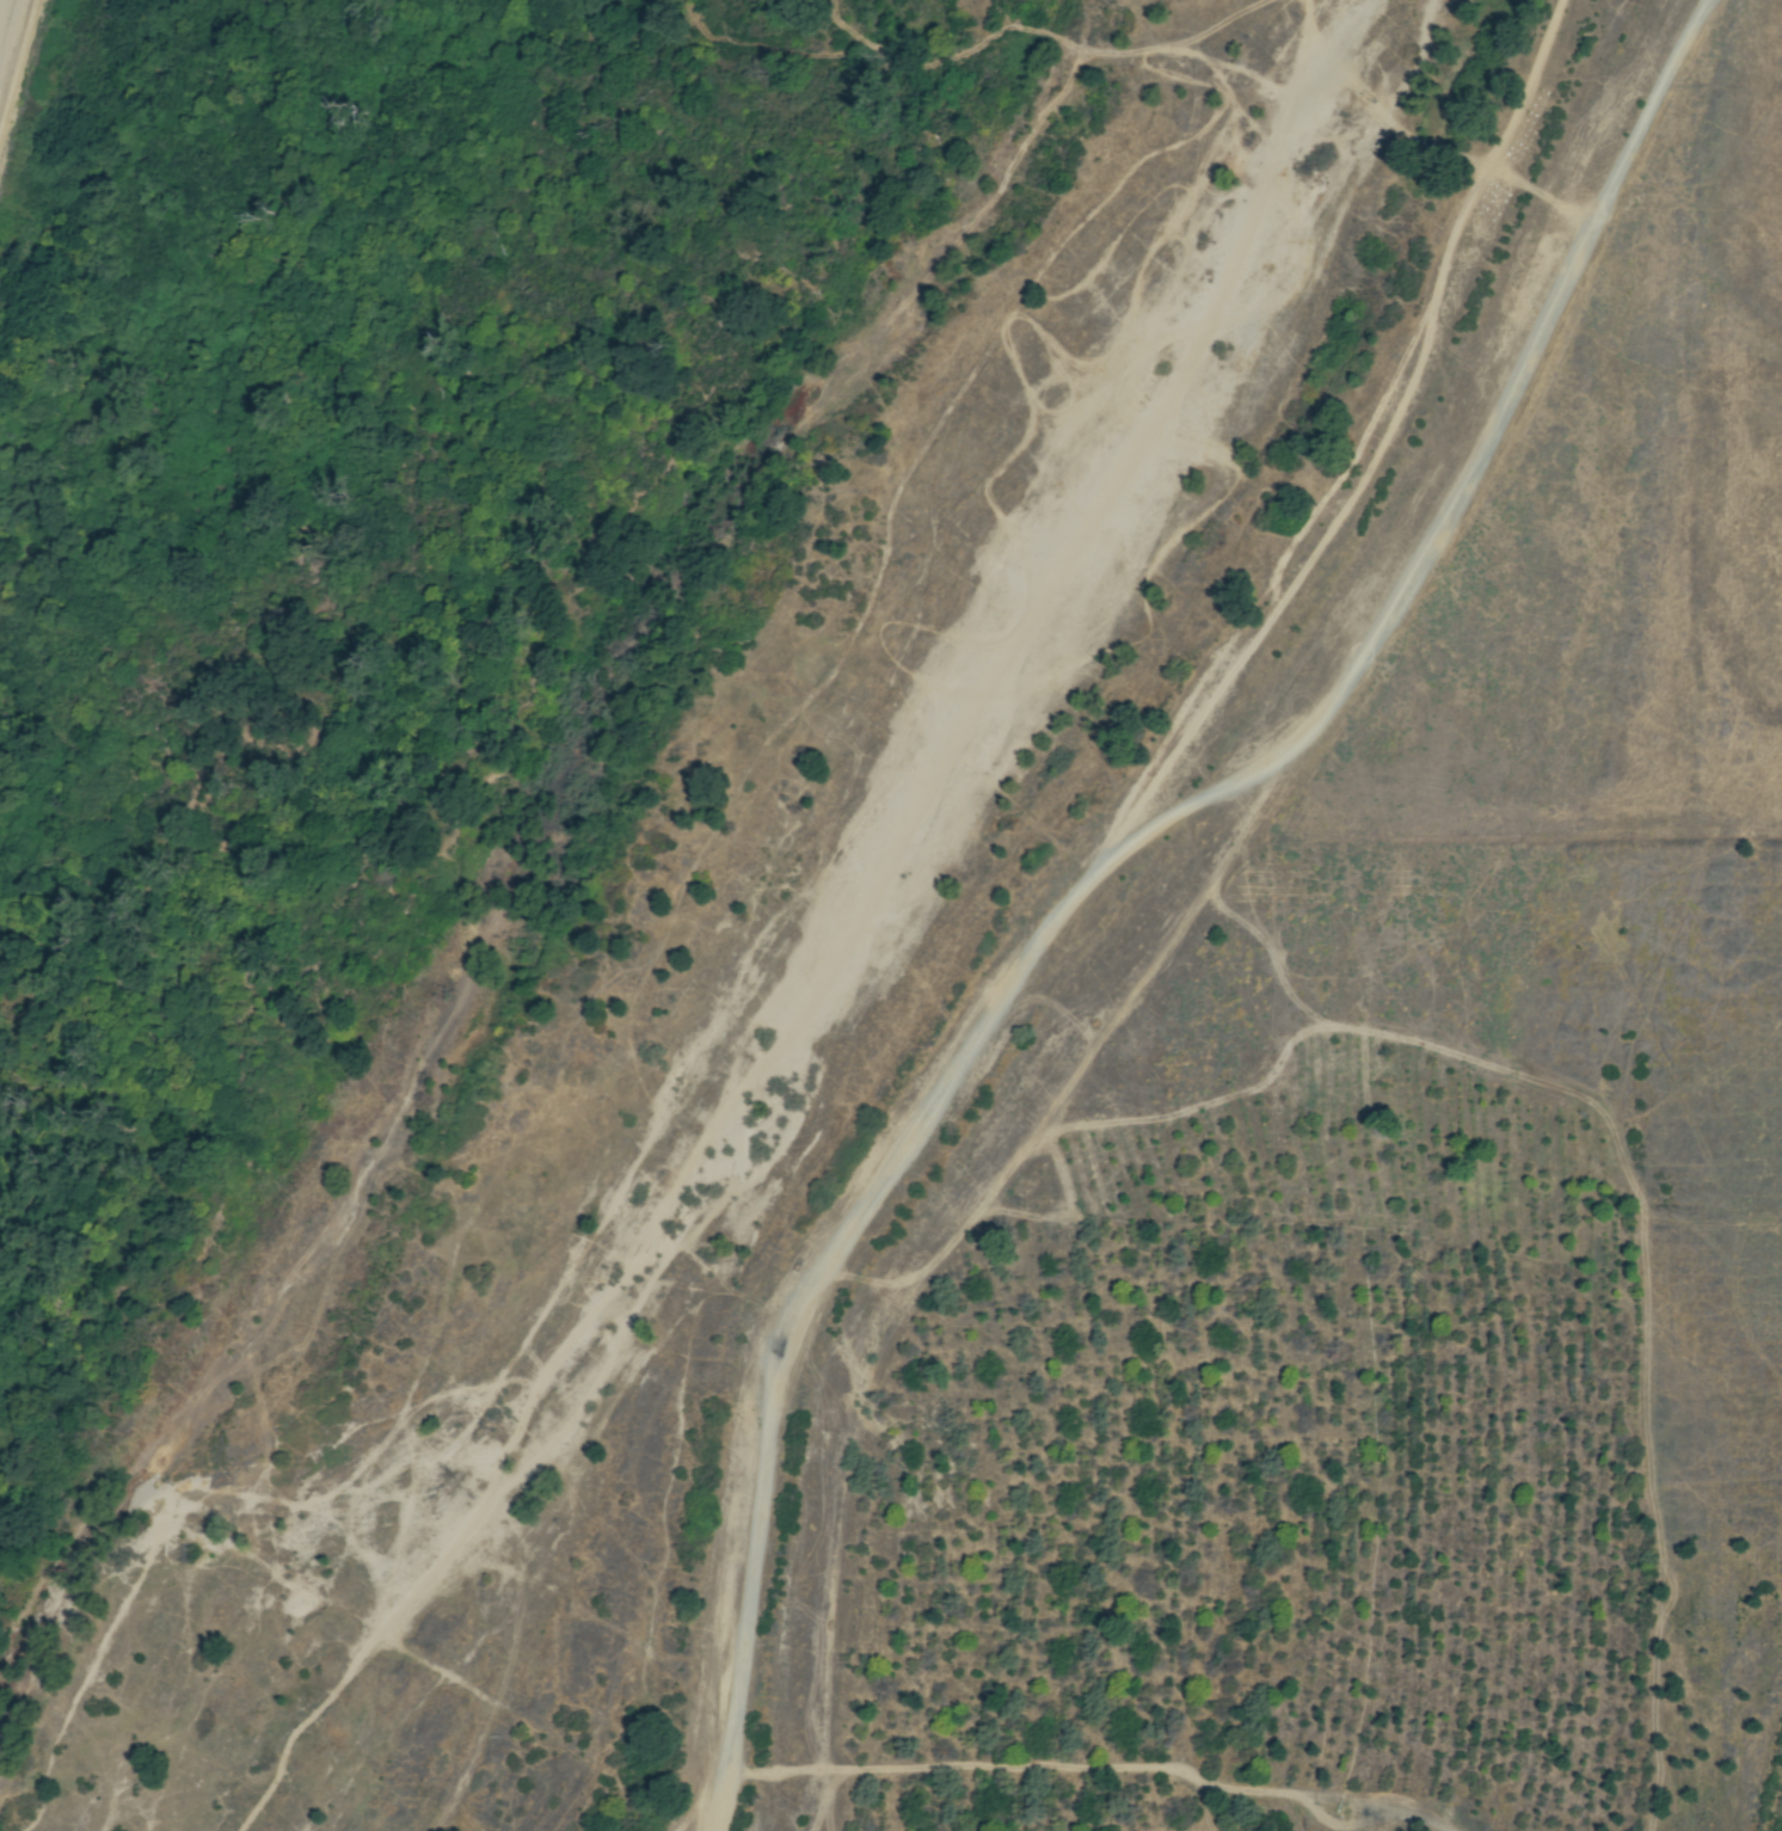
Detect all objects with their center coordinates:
crop: (20, 73)
road: (996, 958)

